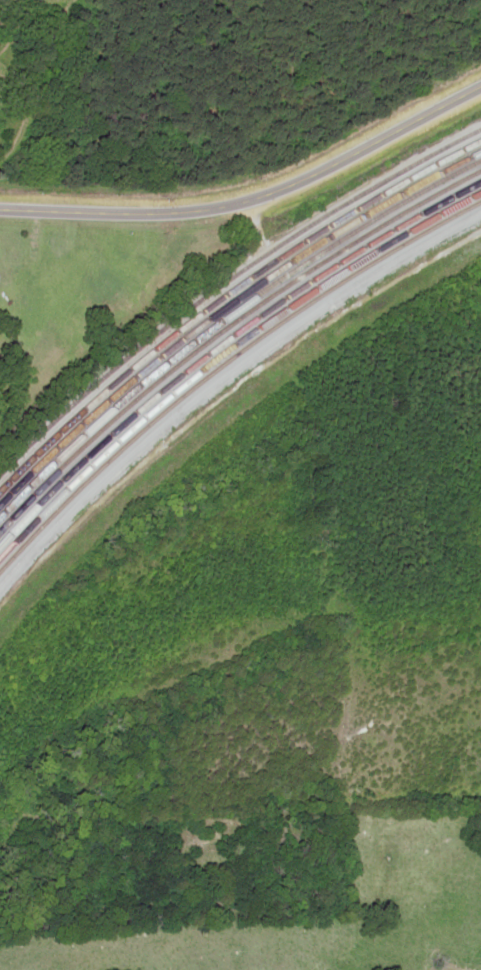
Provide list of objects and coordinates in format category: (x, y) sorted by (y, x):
building: (473, 159)
road: (279, 189)
road: (27, 208)
railway: (226, 279)
railway: (227, 290)
railway: (225, 301)
railway: (225, 312)
railway: (226, 323)
railway: (225, 335)
railway: (225, 346)
railway: (223, 358)

